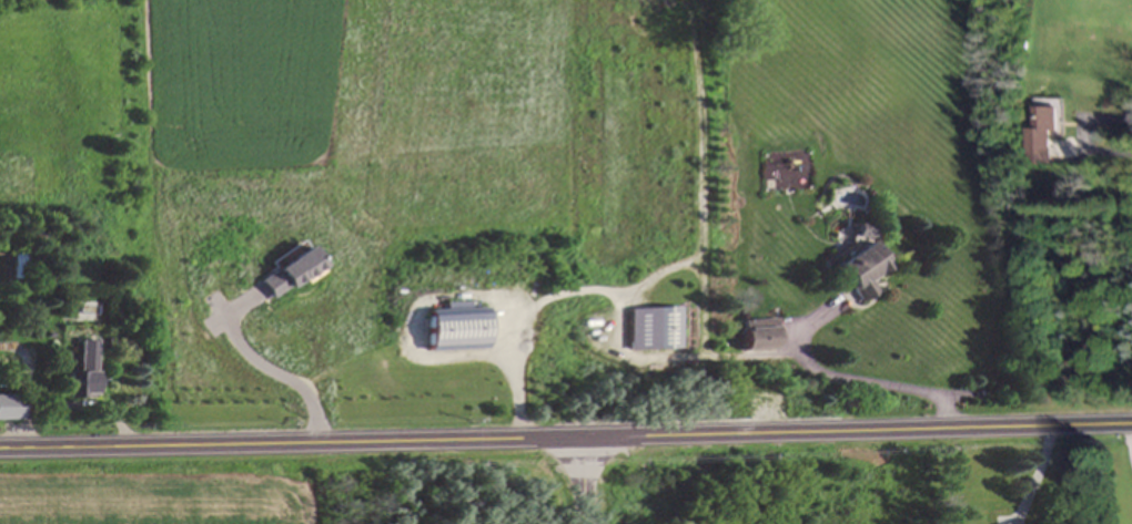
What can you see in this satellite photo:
building: (1034, 134)
road: (1077, 135)
building: (856, 269)
building: (663, 328)
building: (454, 330)
building: (756, 333)
building: (80, 374)
road: (291, 377)
road: (856, 380)
building: (8, 409)
road: (566, 433)
road: (590, 479)

